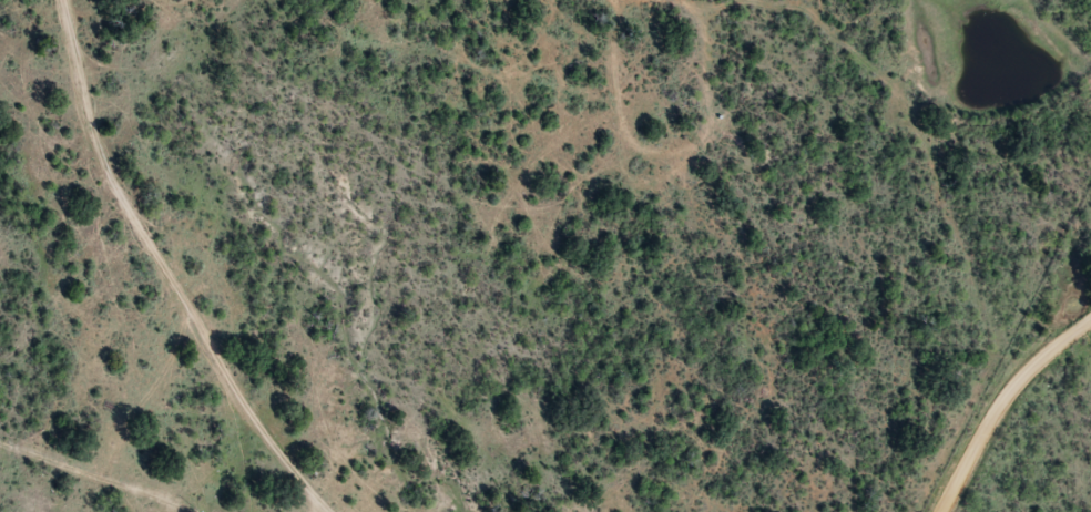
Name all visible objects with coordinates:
road: (171, 272)
road: (1001, 406)

